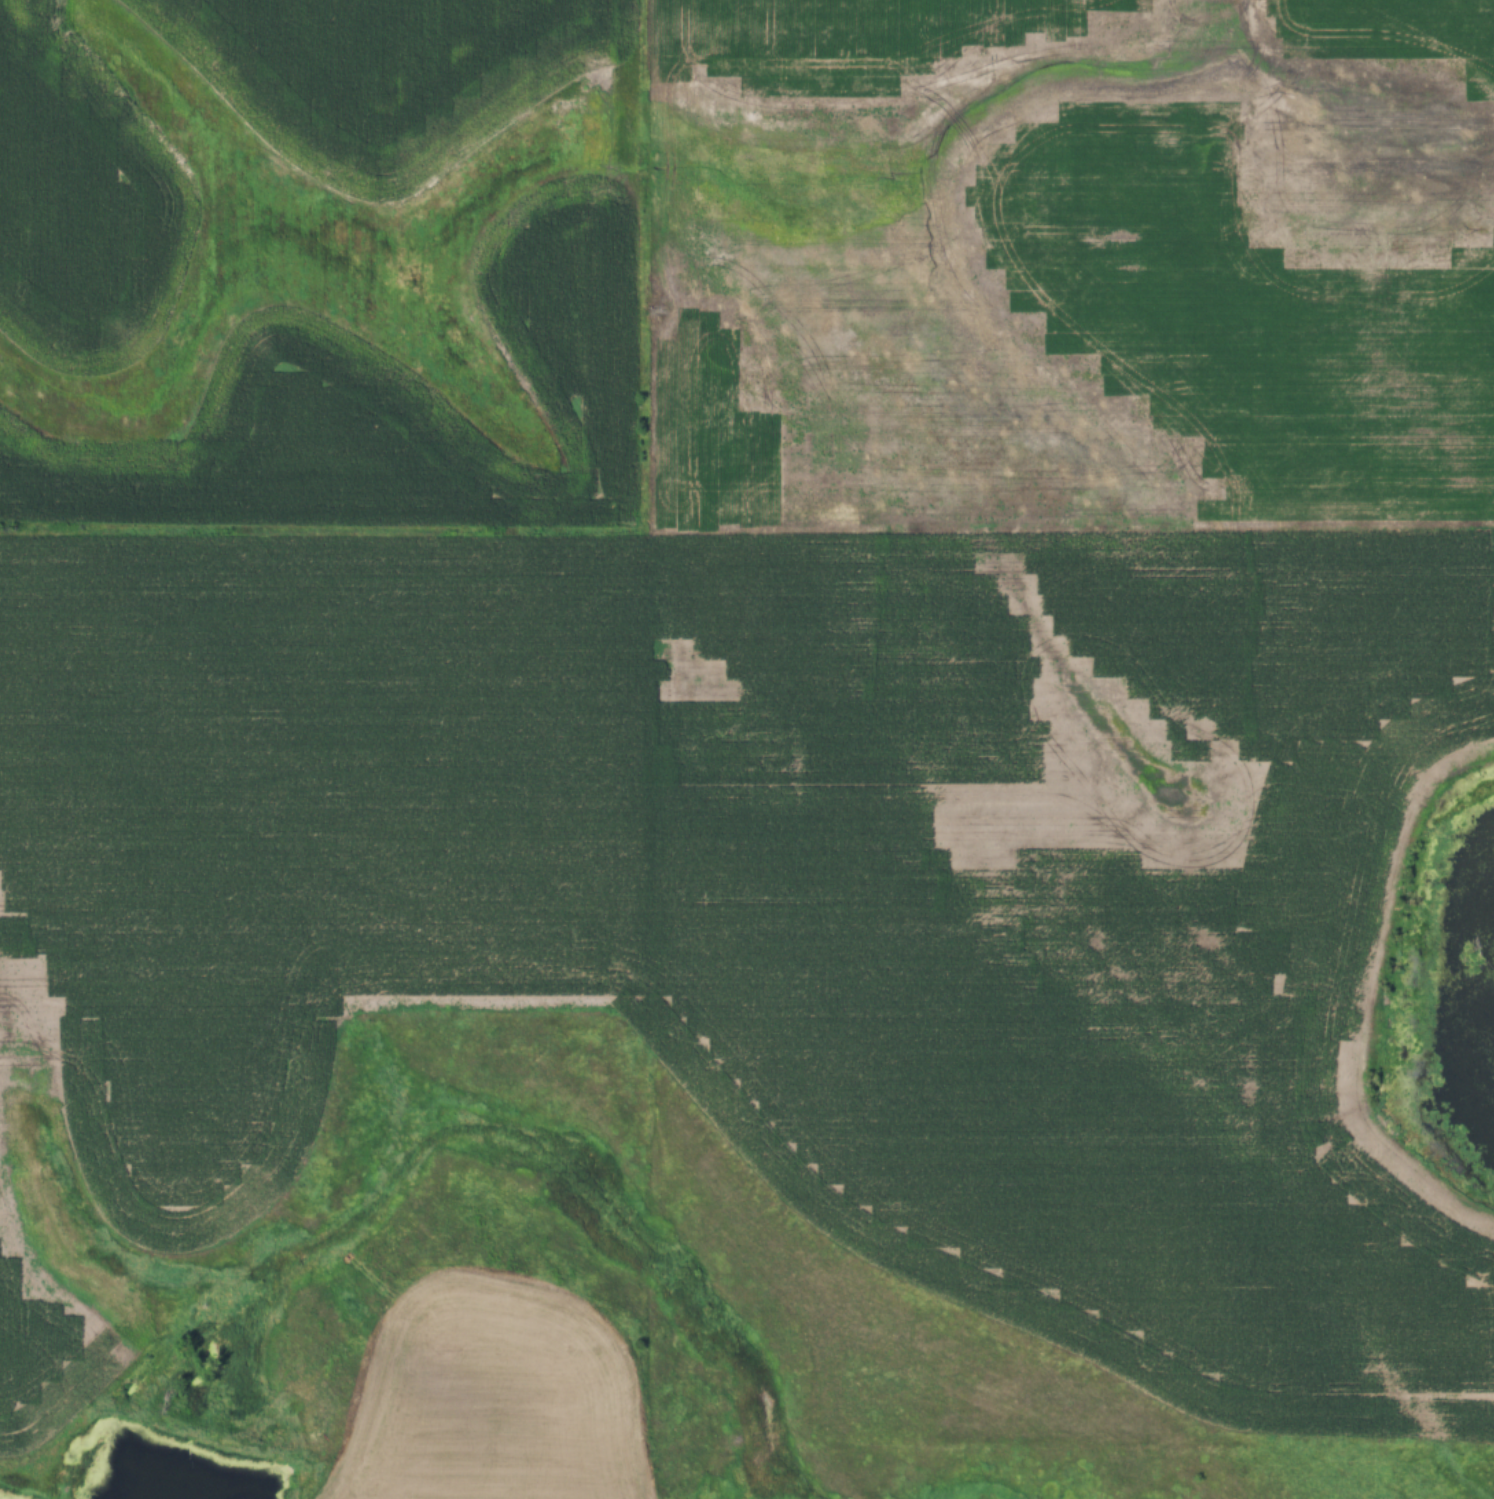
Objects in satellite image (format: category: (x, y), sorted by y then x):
building: (964, 1436)

